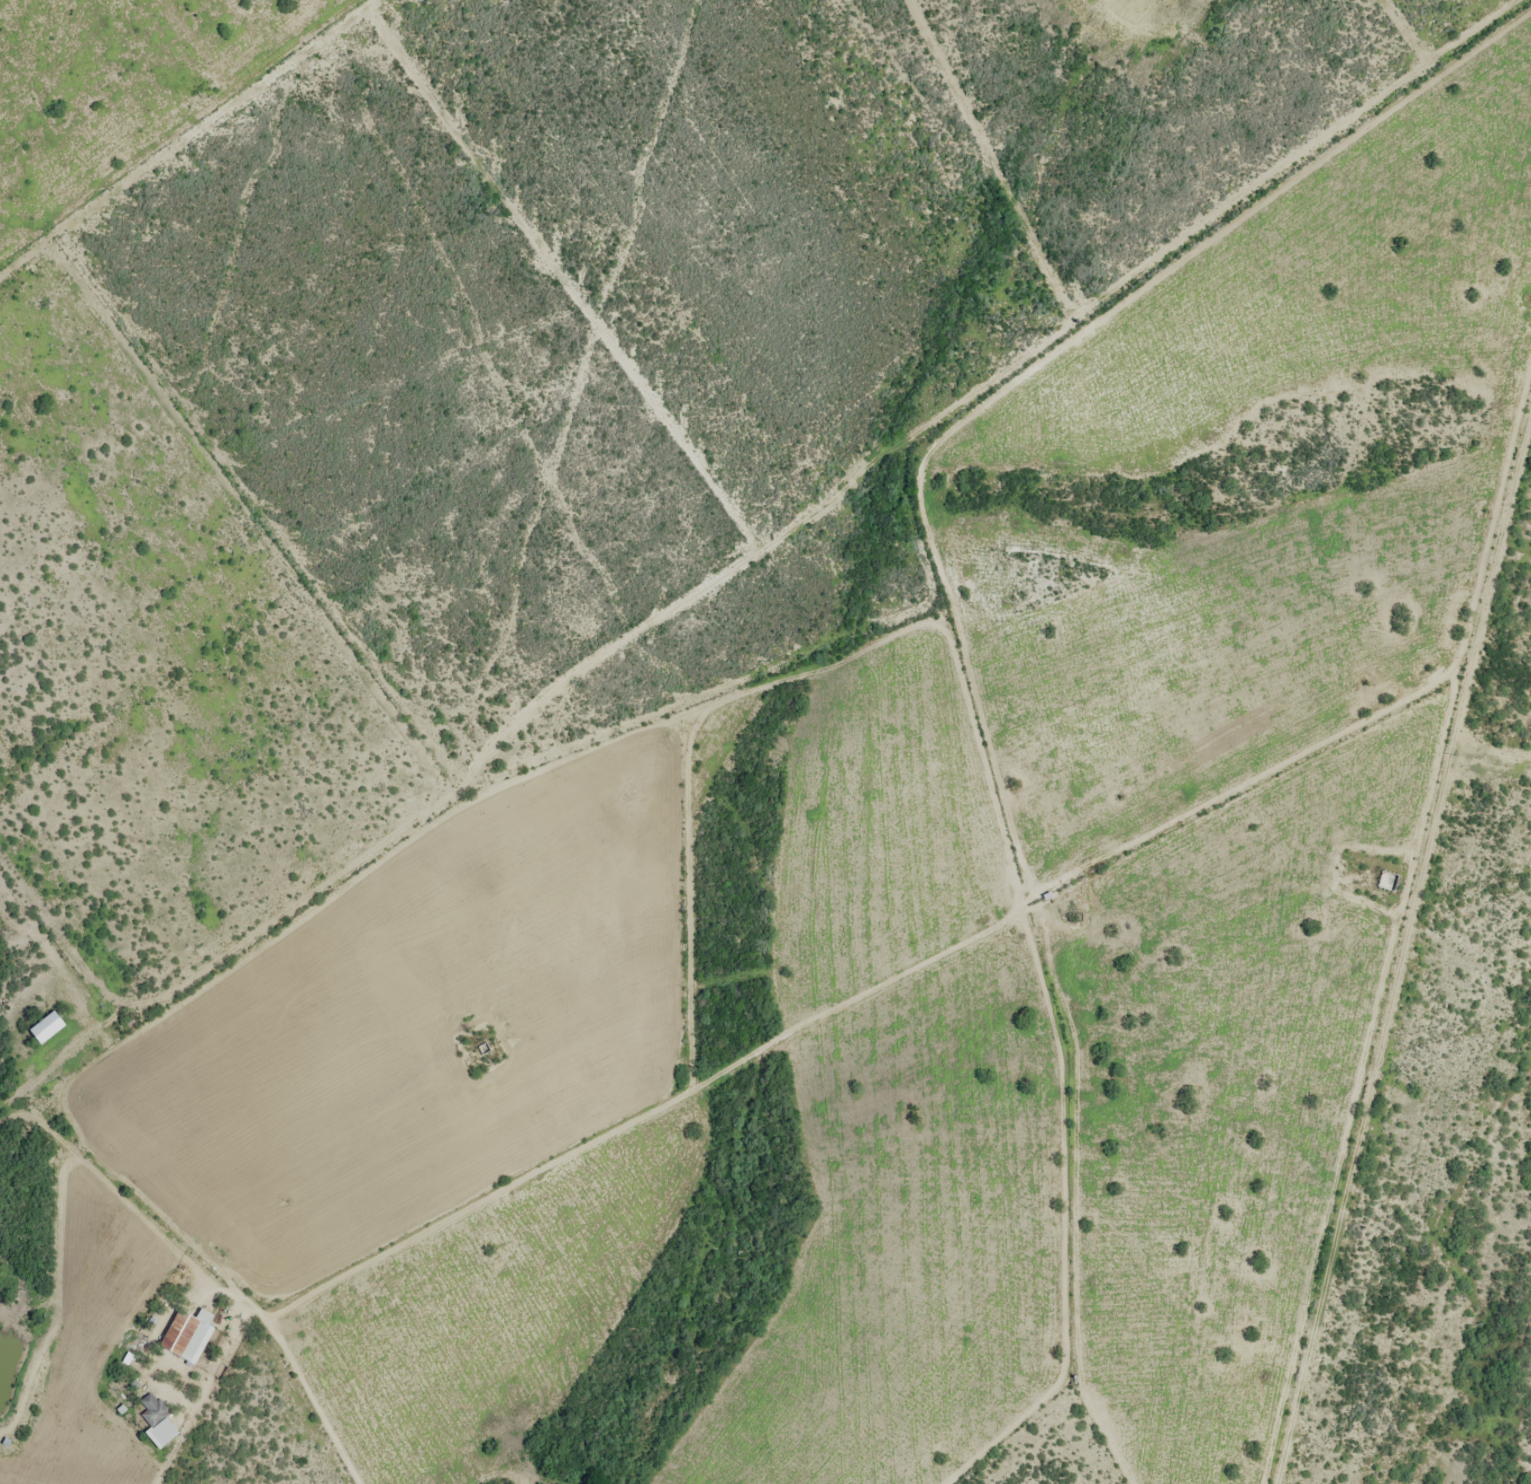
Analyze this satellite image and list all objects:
building: (48, 1026)
building: (182, 1333)
building: (165, 1433)

